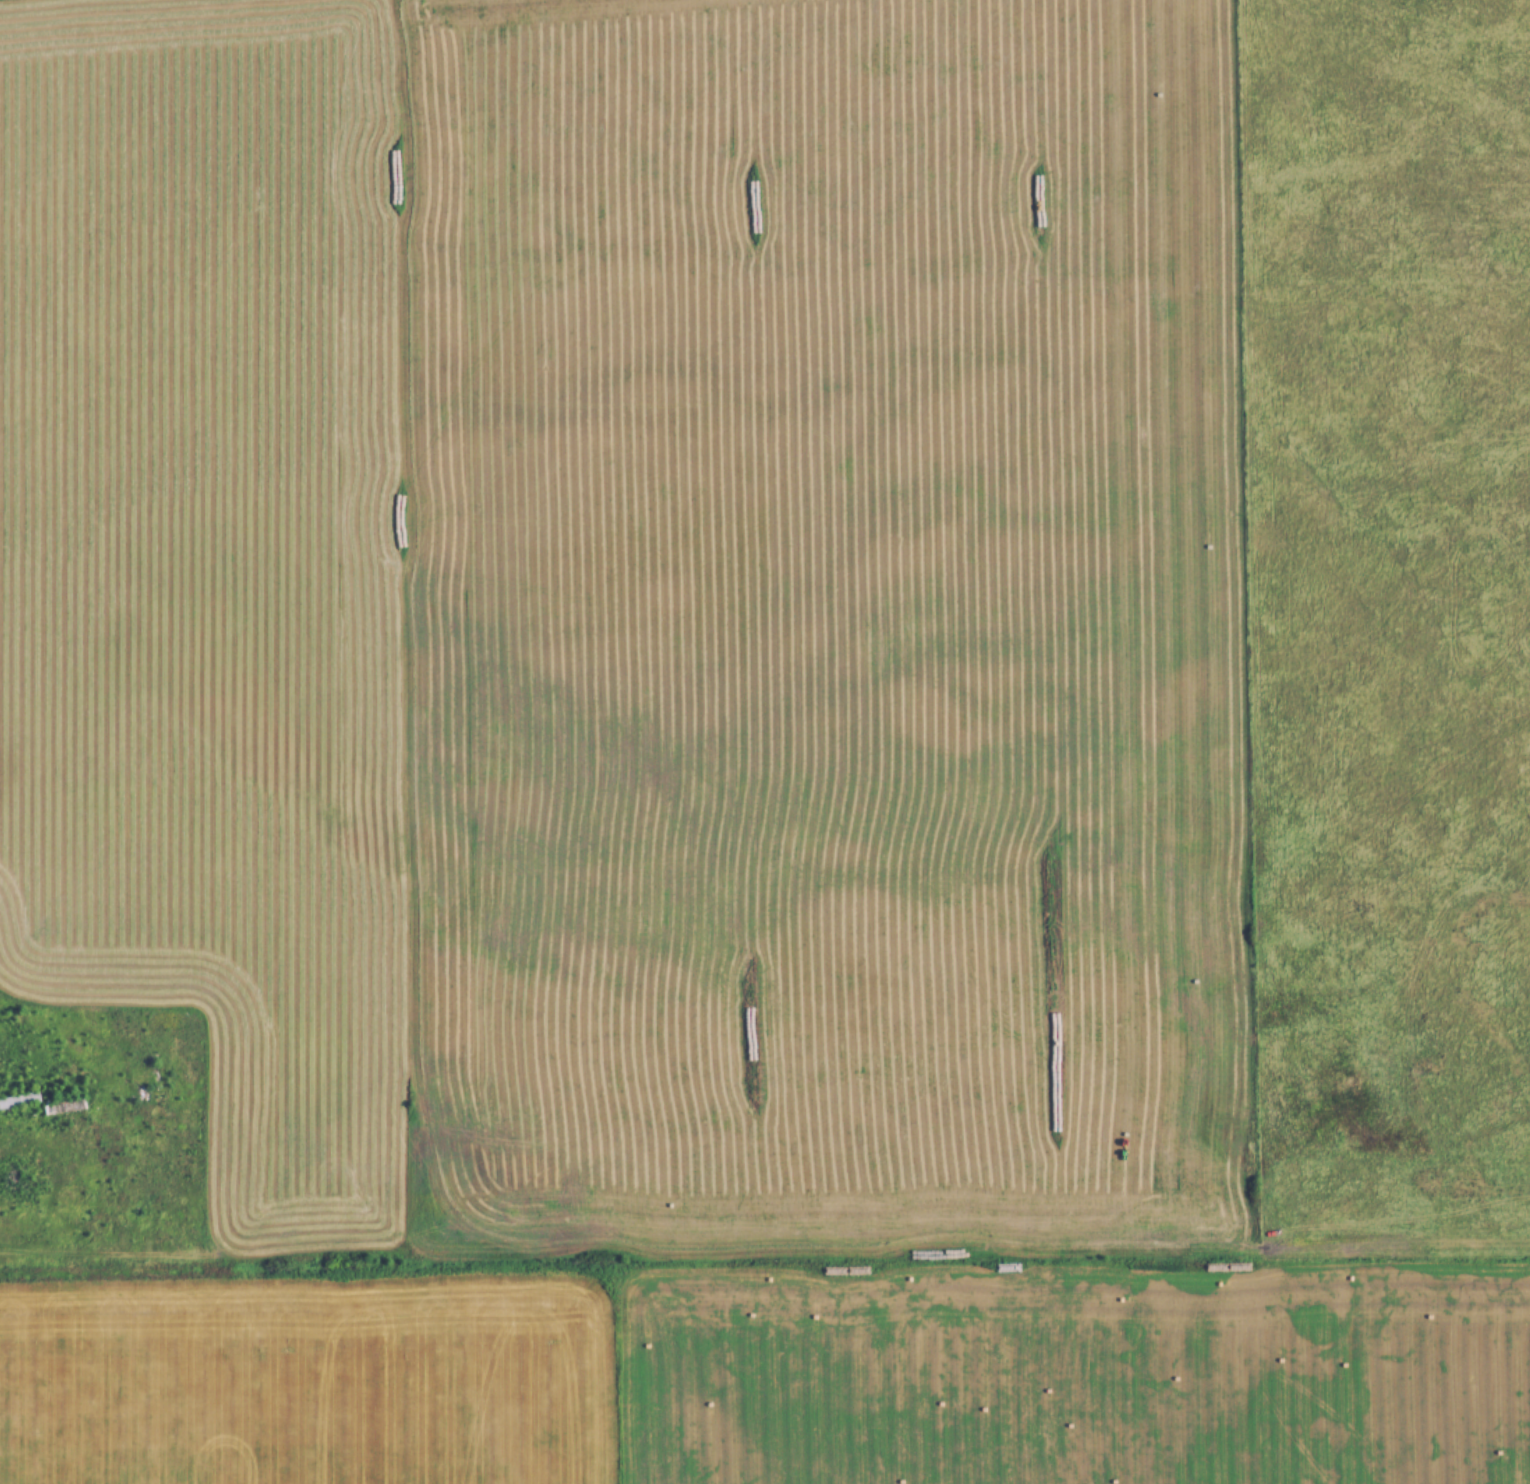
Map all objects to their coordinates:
building: (20, 1101)
building: (64, 1108)

